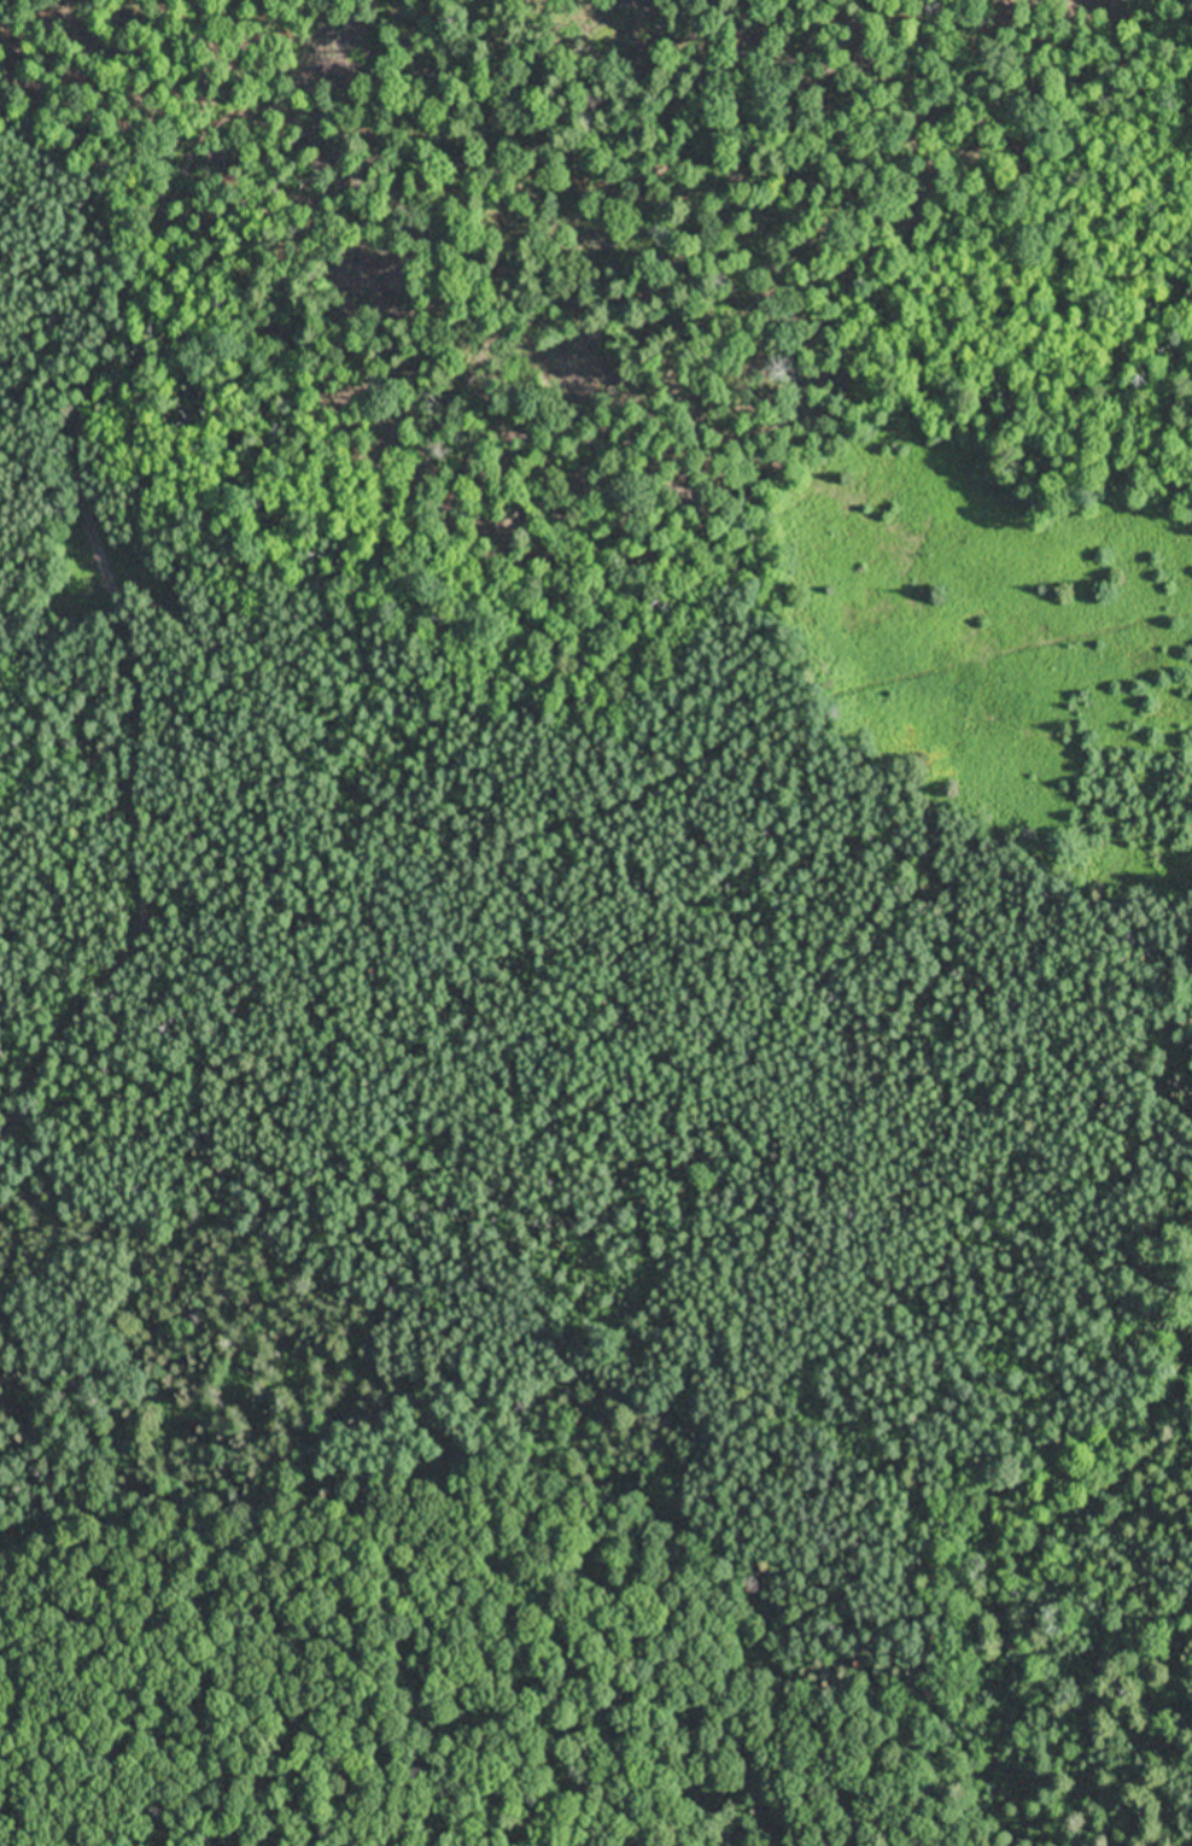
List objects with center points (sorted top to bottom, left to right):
road: (134, 294)

